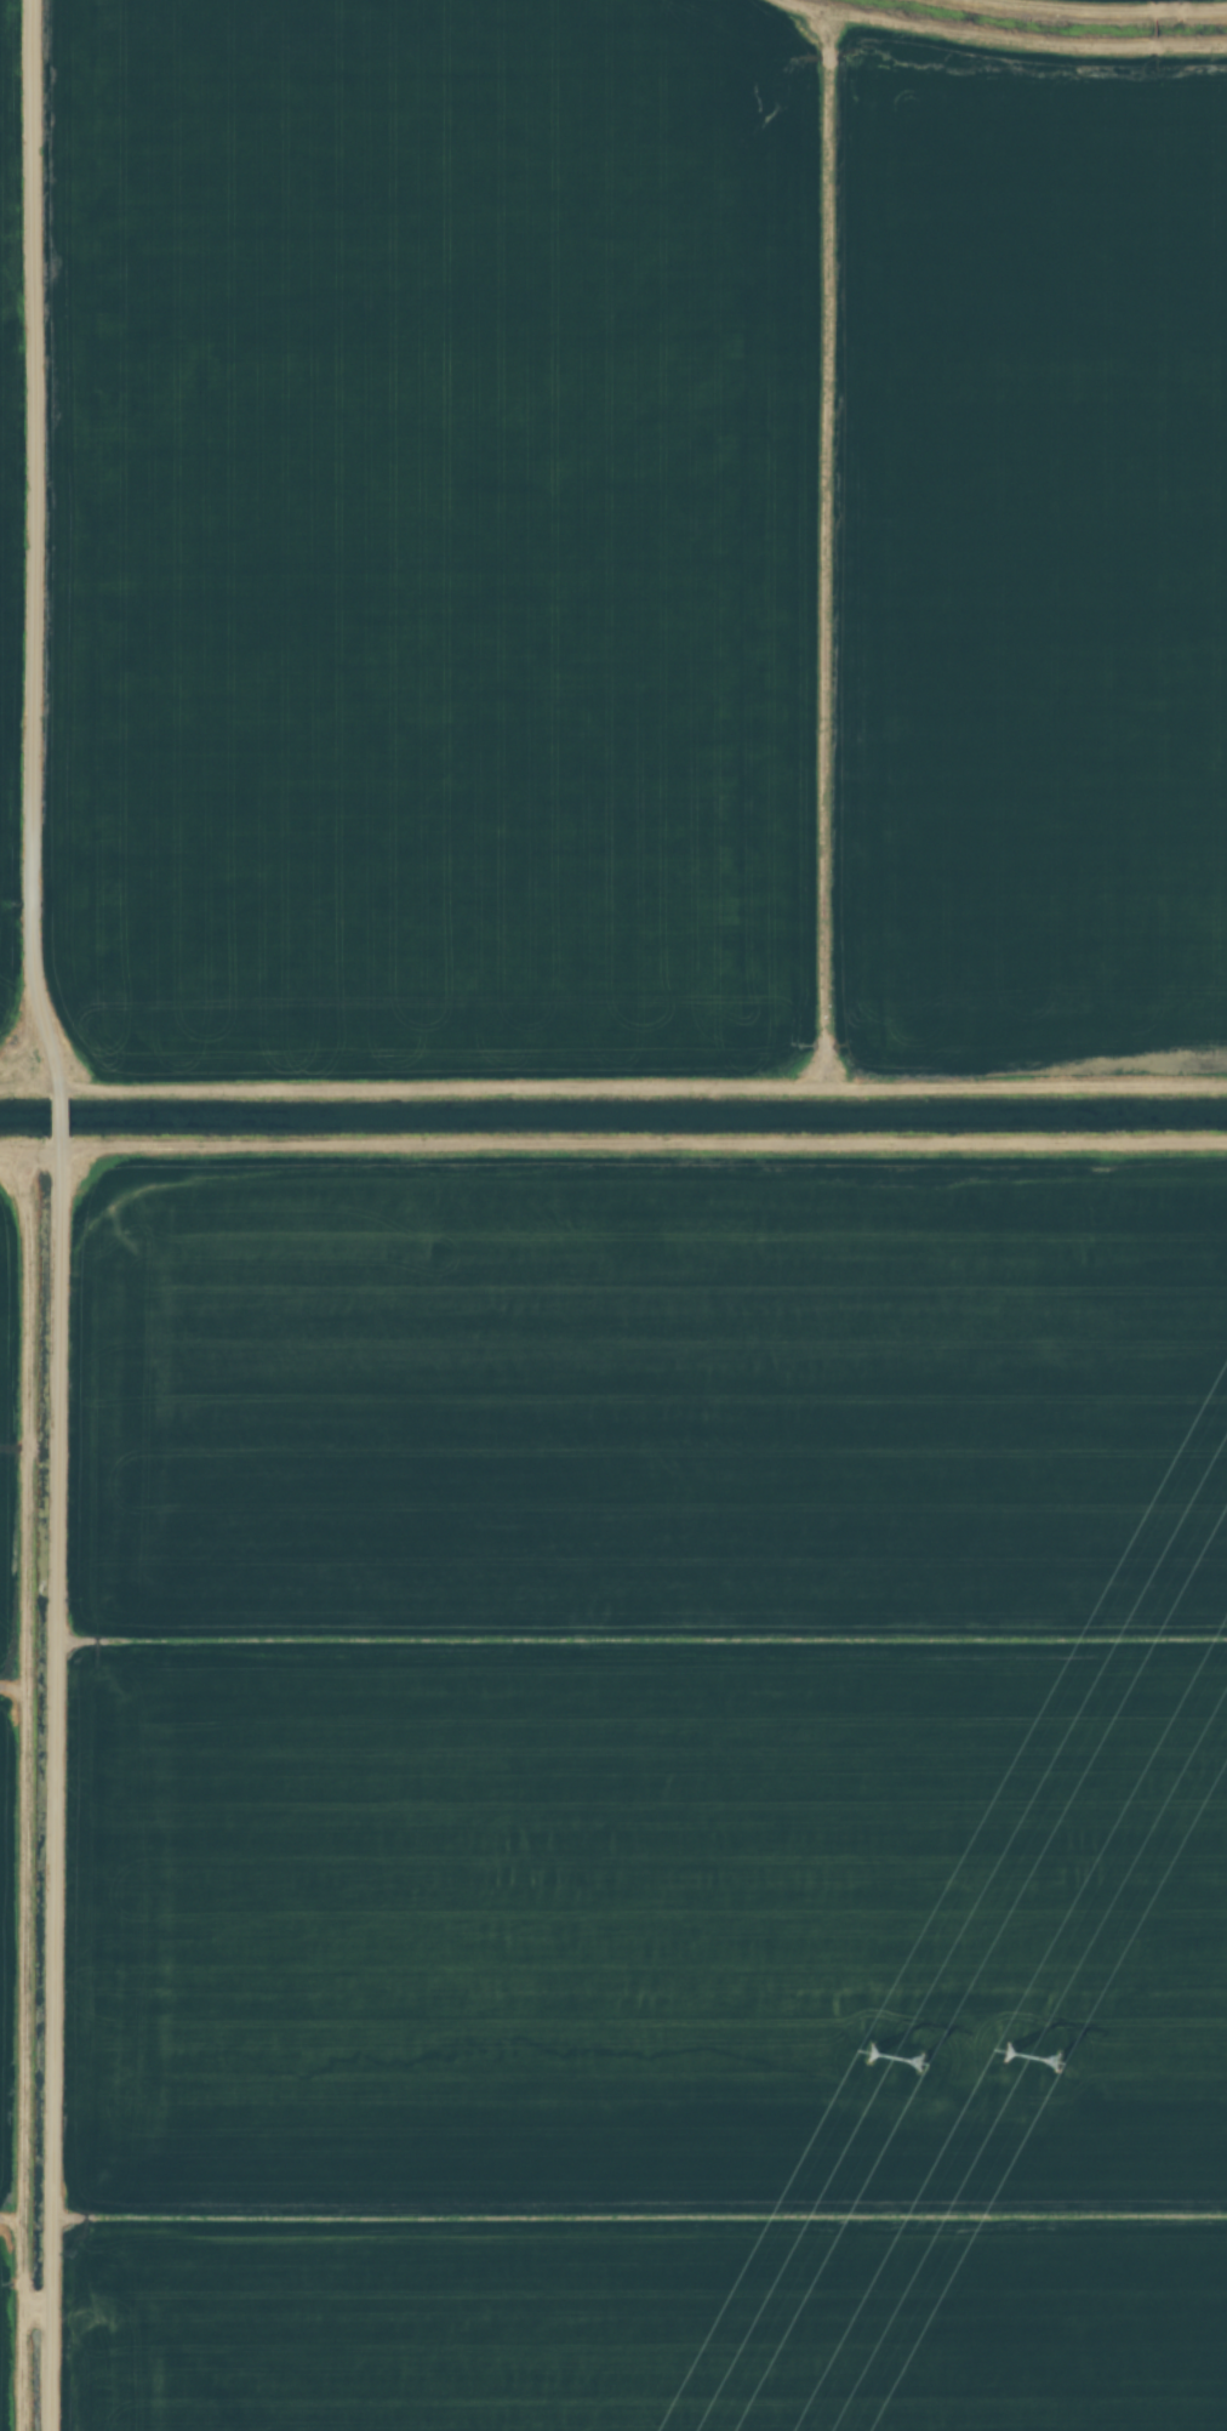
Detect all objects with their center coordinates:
power tower: (906, 2055)
power tower: (1039, 2062)

